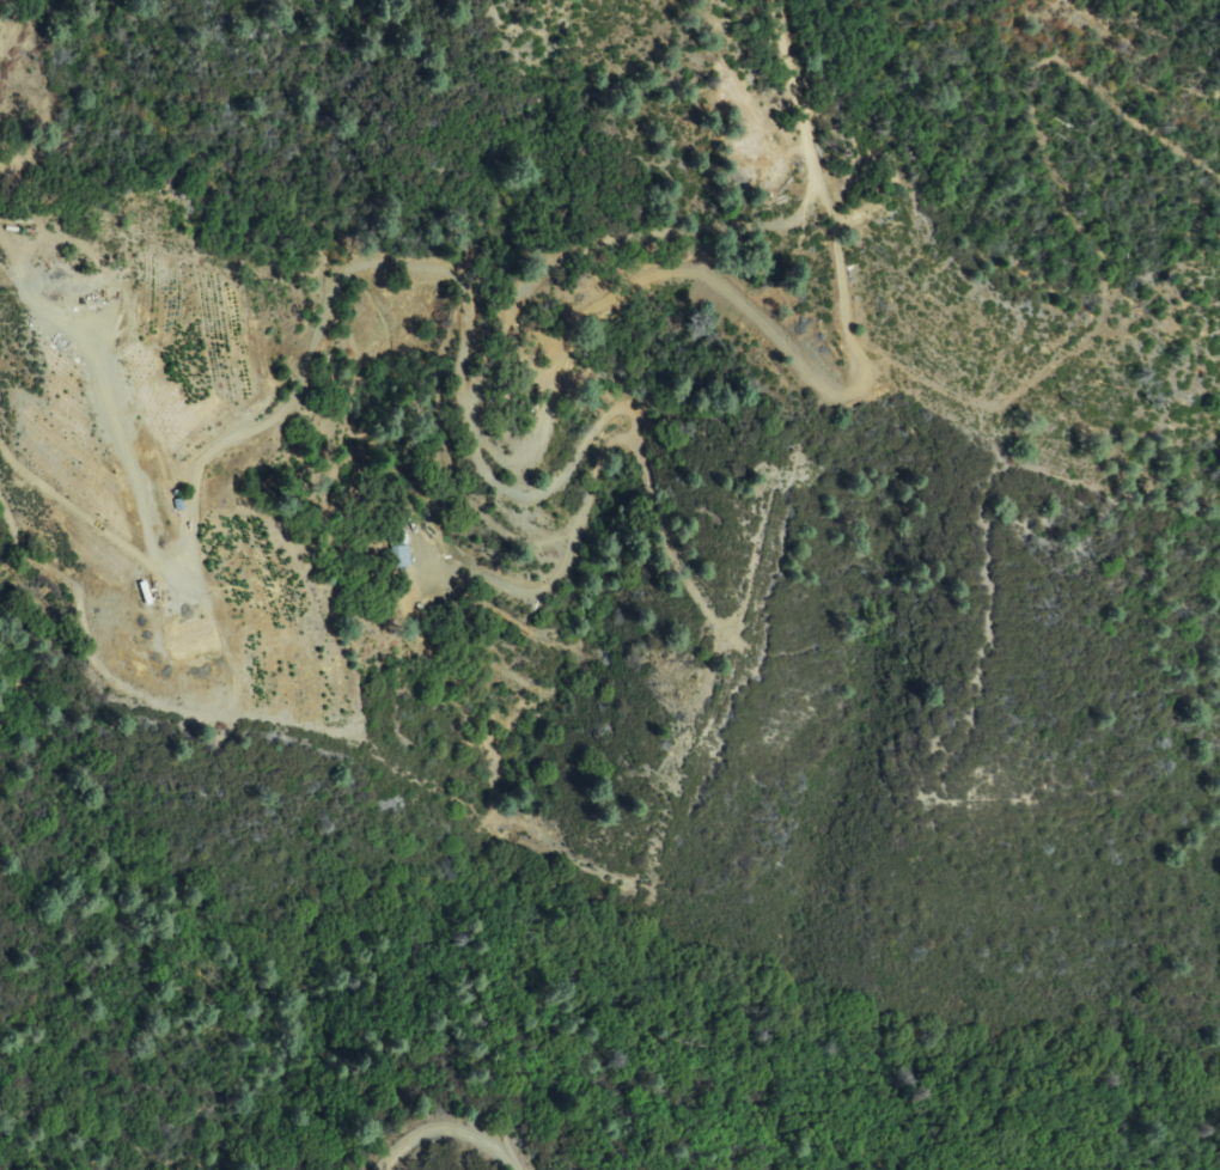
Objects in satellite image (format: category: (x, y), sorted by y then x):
building: (179, 505)
building: (397, 535)
building: (401, 557)

